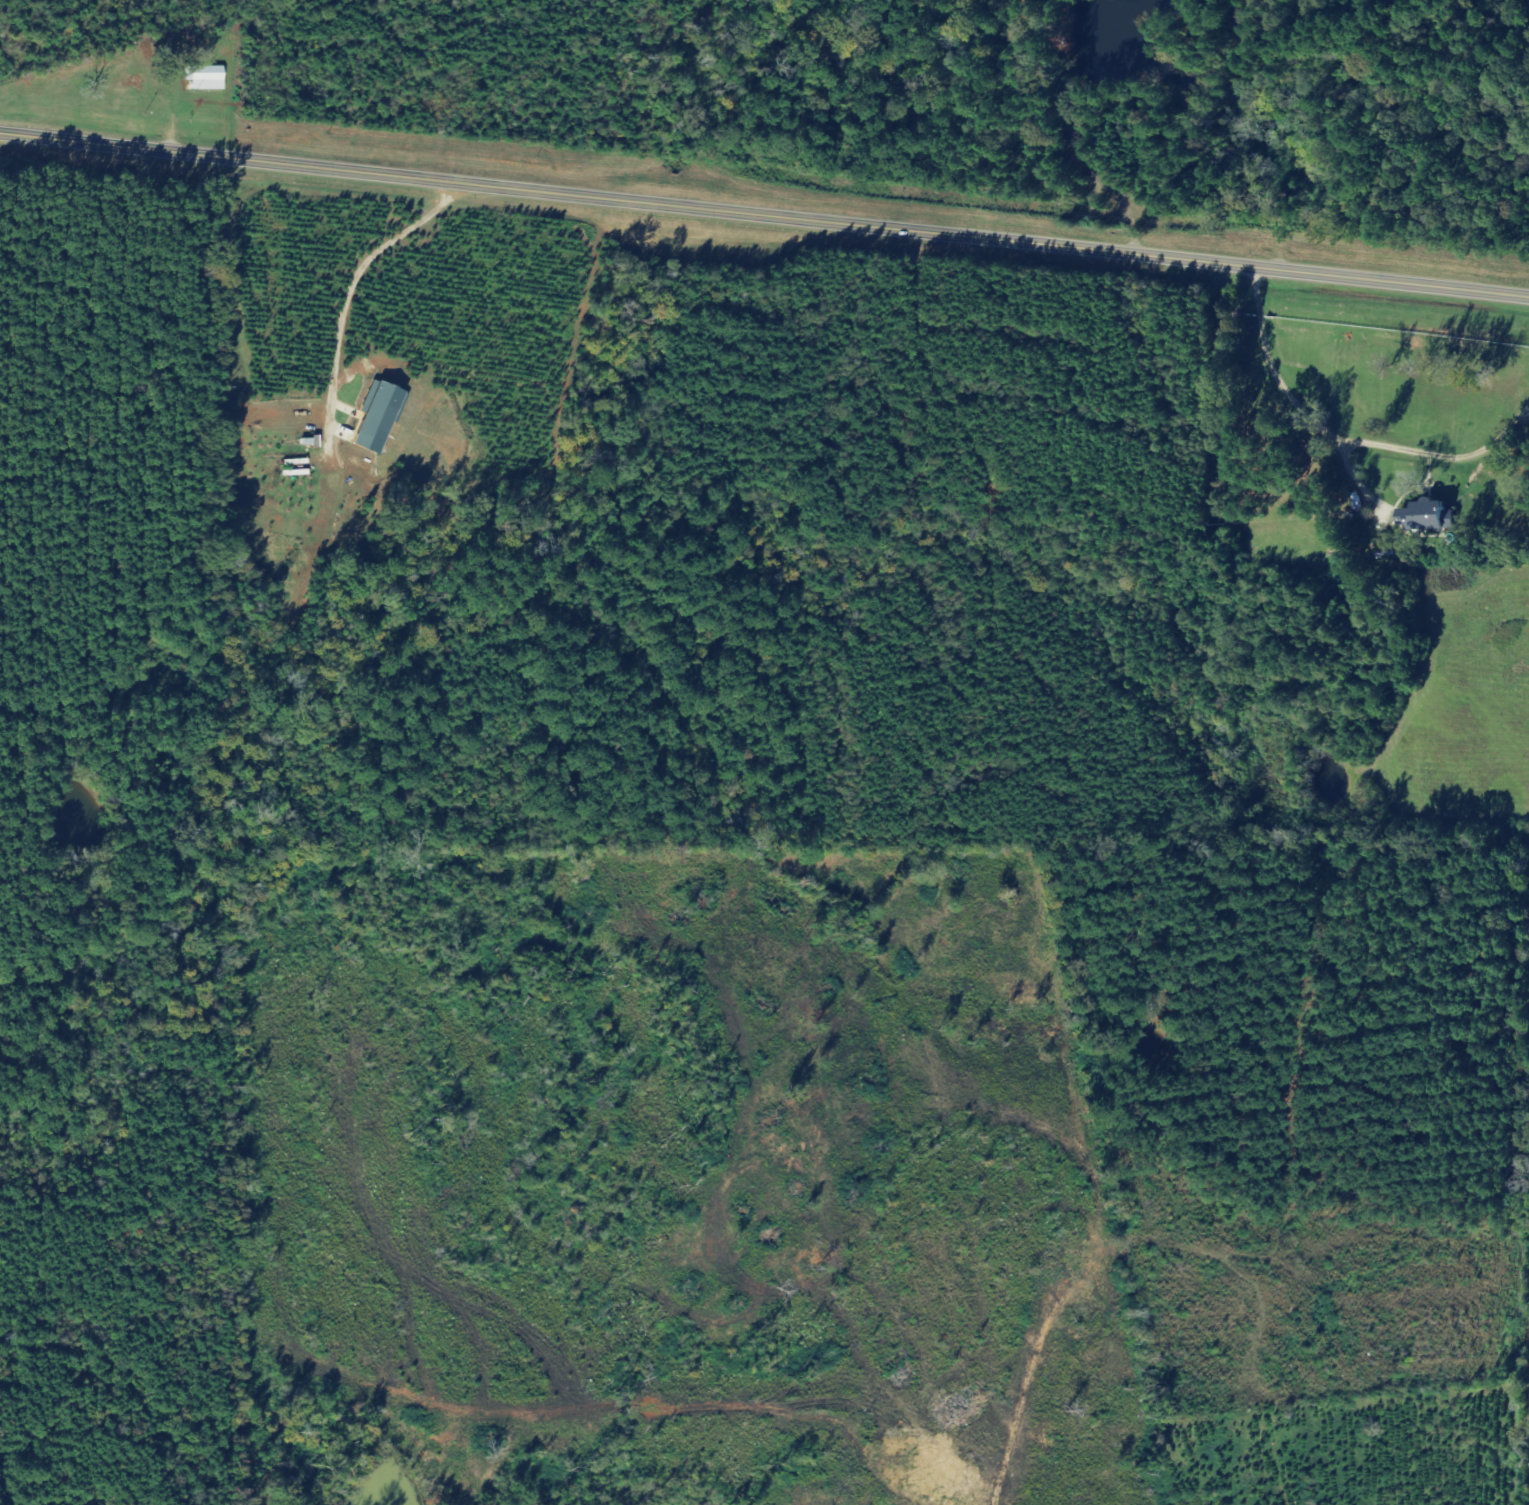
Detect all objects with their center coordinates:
road: (1521, 5)
road: (1096, 134)
road: (764, 216)
building: (381, 418)
road: (1234, 427)
building: (1436, 518)
road: (1199, 1451)

